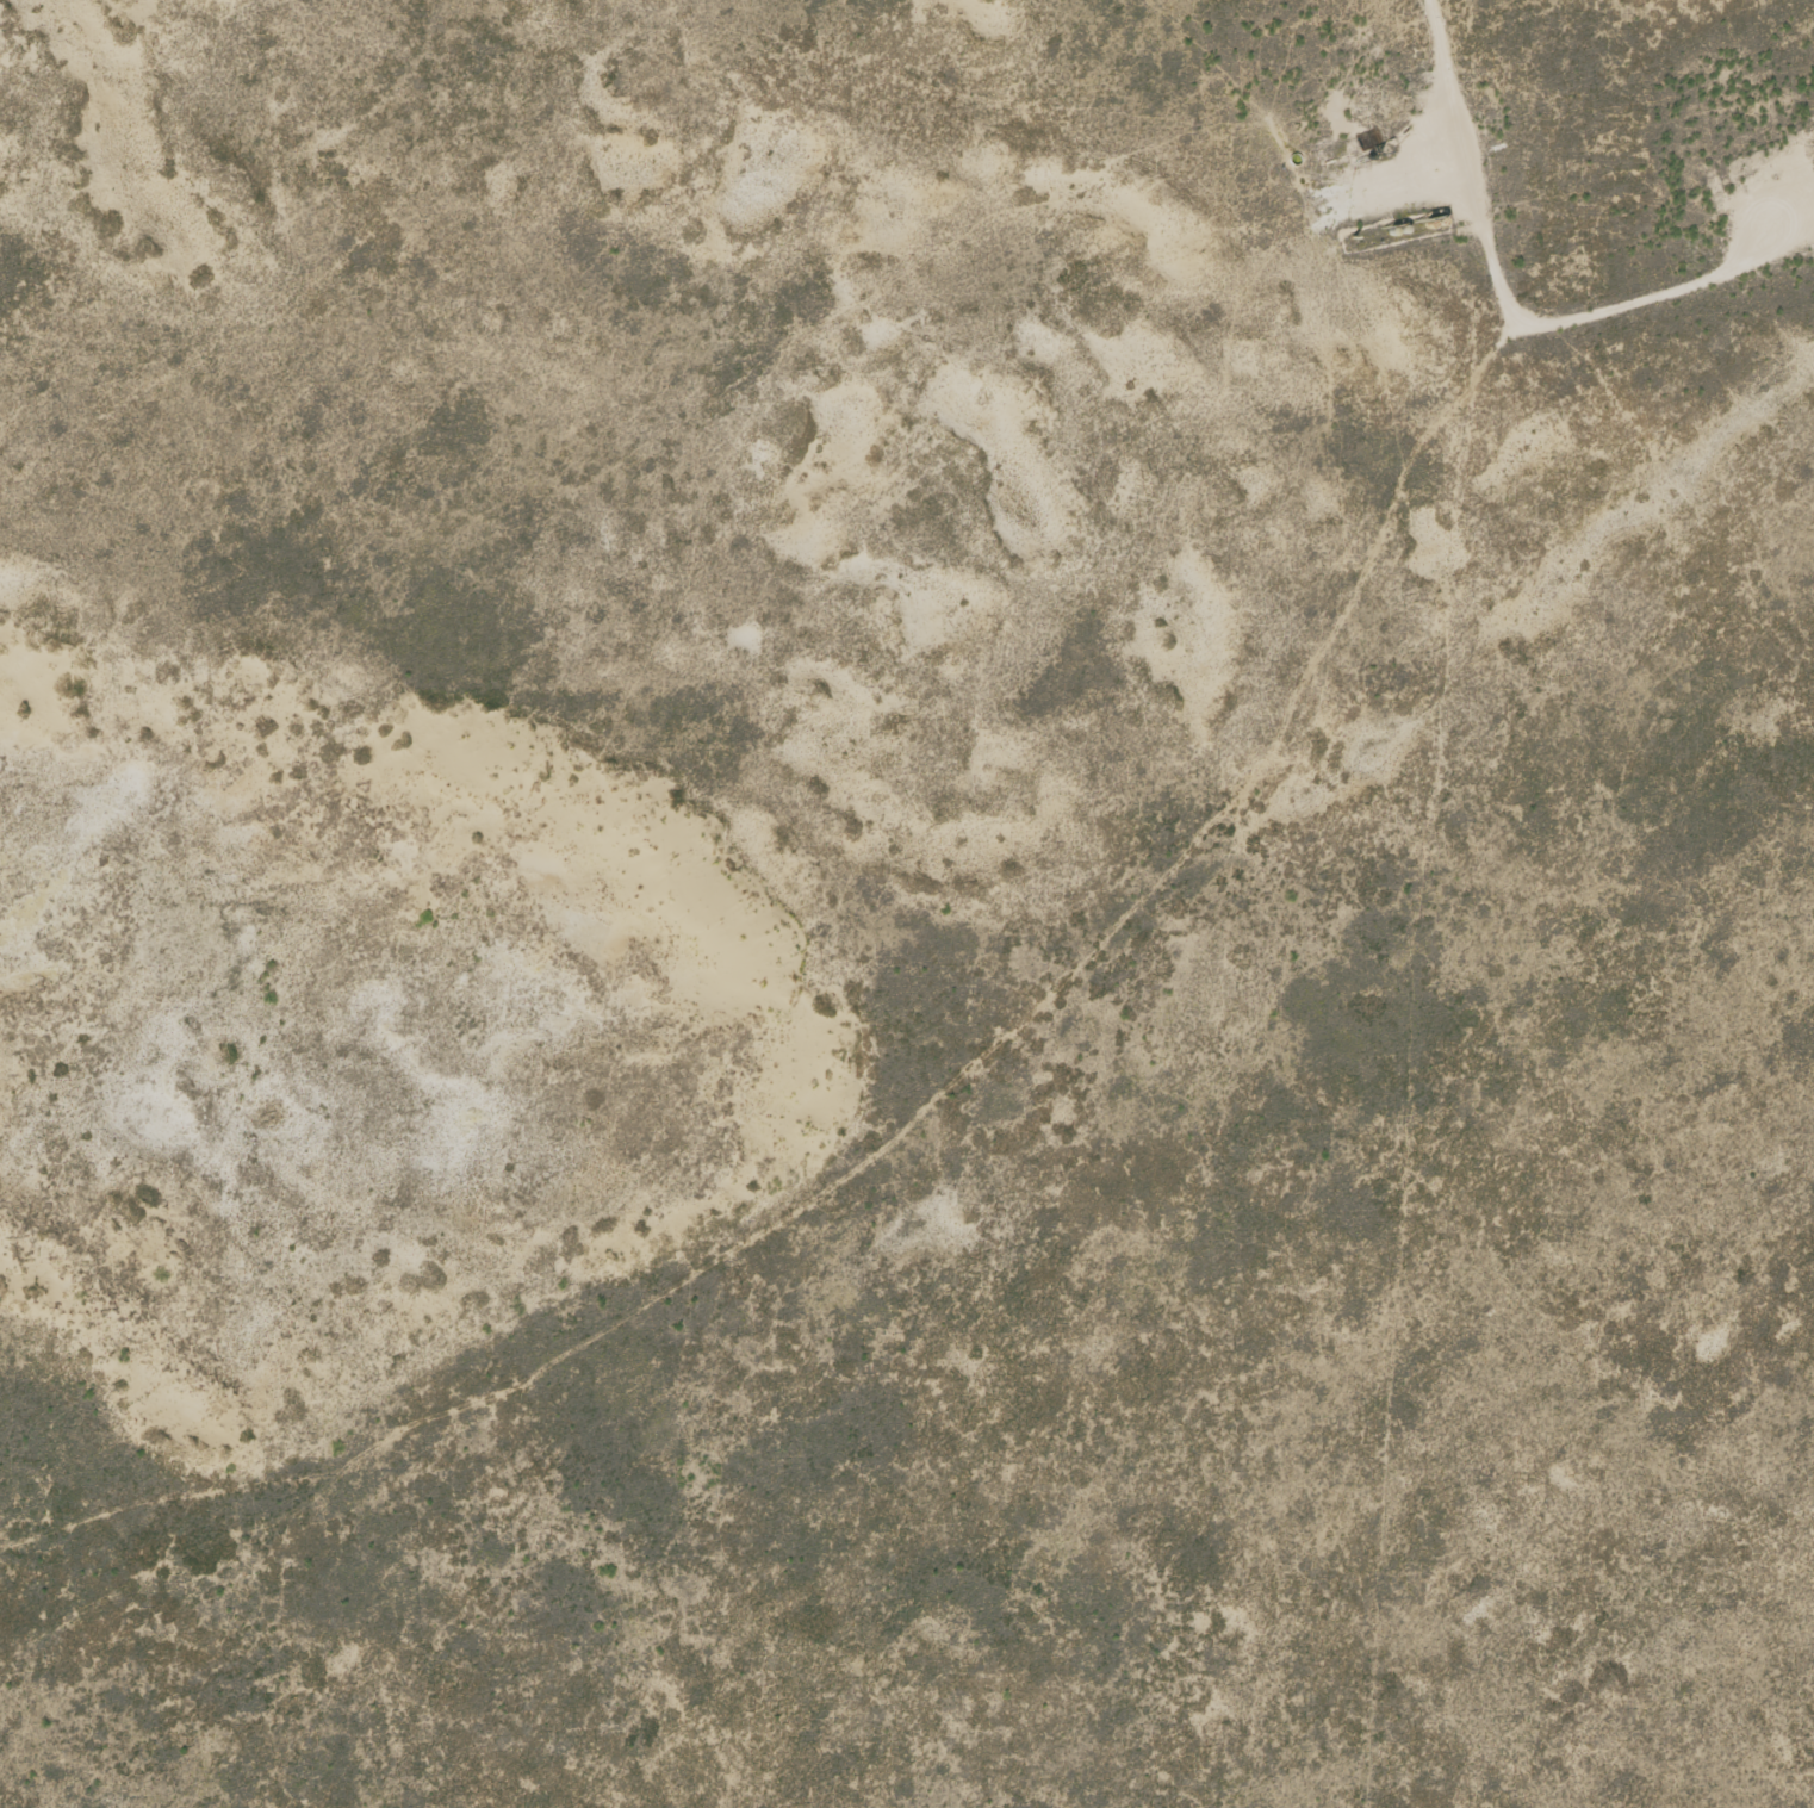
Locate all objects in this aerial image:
road: (1517, 296)

